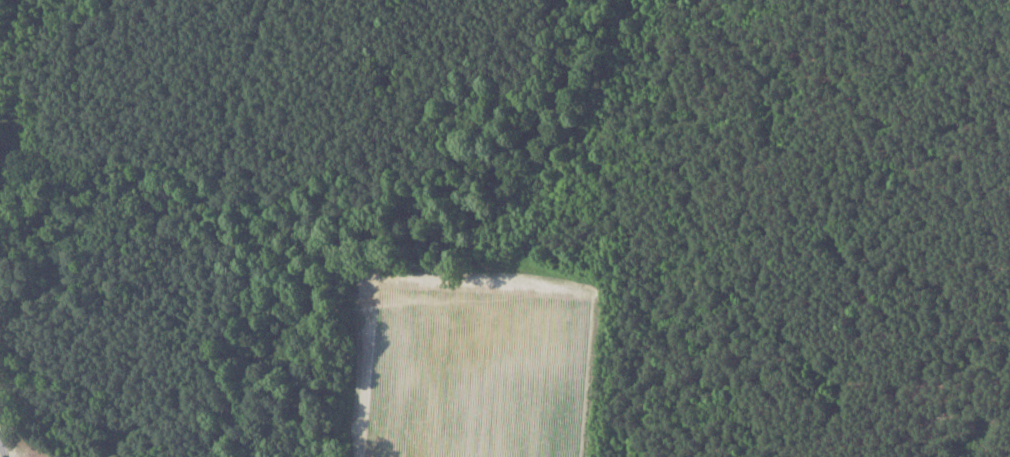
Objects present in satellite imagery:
road: (1, 449)
road: (2, 449)

